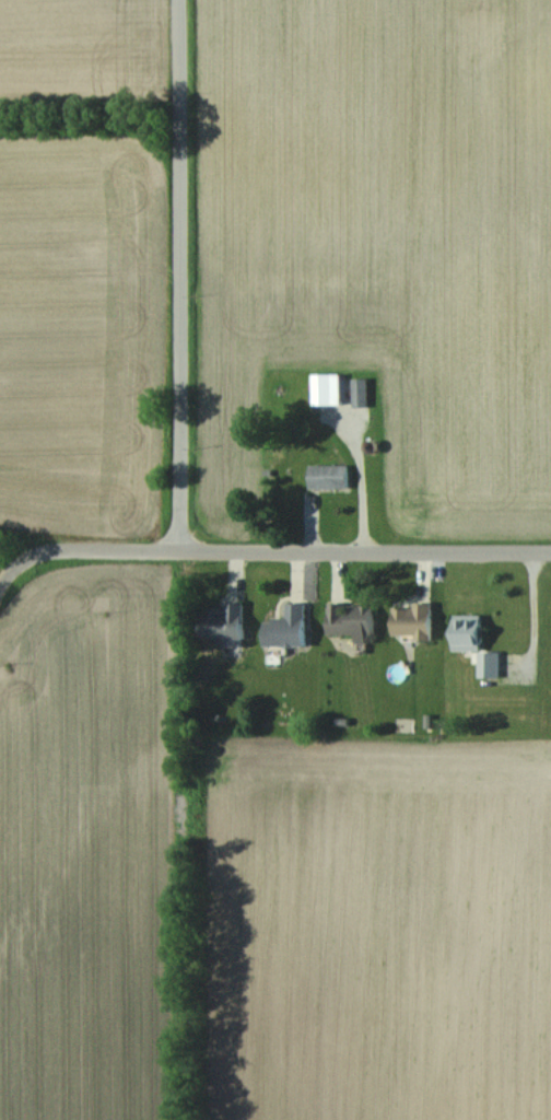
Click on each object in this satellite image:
road: (178, 276)
building: (327, 387)
building: (328, 475)
road: (366, 548)
road: (81, 550)
building: (351, 619)
building: (413, 619)
building: (224, 621)
building: (286, 627)
building: (467, 631)
building: (489, 663)

